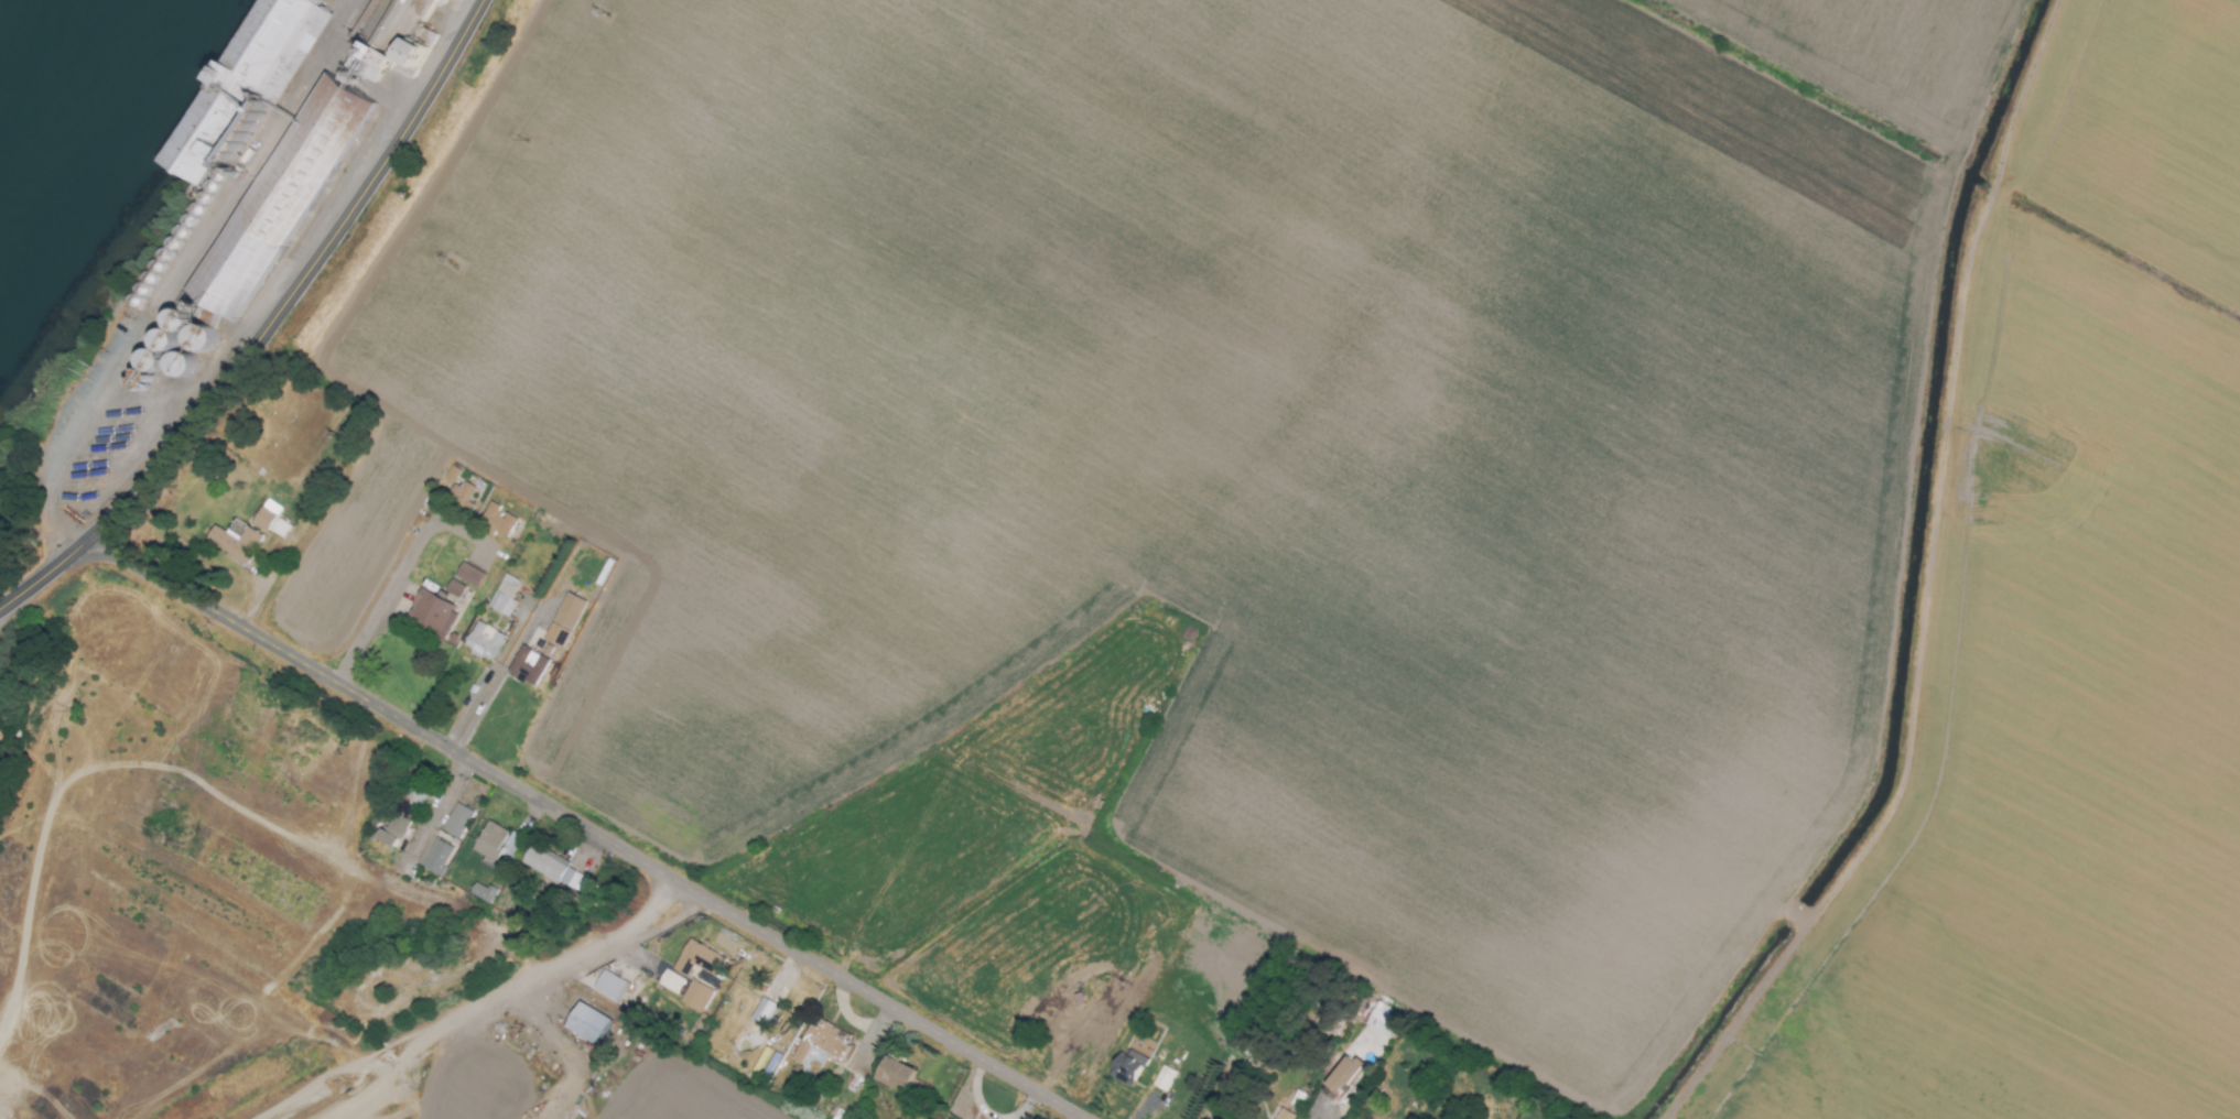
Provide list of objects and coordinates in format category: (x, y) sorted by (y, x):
river: (31, 40)
building: (244, 85)
road: (303, 282)
building: (450, 474)
crop: (1363, 492)
building: (461, 493)
building: (270, 519)
building: (496, 520)
building: (232, 543)
building: (468, 574)
road: (46, 576)
road: (398, 576)
building: (453, 588)
building: (502, 595)
building: (430, 613)
building: (563, 620)
building: (483, 641)
building: (526, 666)
road: (481, 681)
road: (490, 687)
road: (61, 792)
building: (421, 796)
road: (436, 805)
building: (464, 823)
road: (585, 828)
building: (399, 834)
building: (497, 845)
building: (442, 859)
building: (558, 872)
building: (486, 894)
building: (695, 959)
road: (548, 964)
building: (669, 981)
building: (608, 986)
building: (694, 997)
building: (762, 1012)
building: (1378, 1022)
building: (585, 1023)
building: (822, 1041)
crop: (505, 1061)
road: (360, 1067)
building: (1125, 1067)
road: (434, 1073)
building: (894, 1074)
building: (1162, 1078)
building: (1340, 1078)
road: (629, 1093)
road: (289, 1107)
building: (1284, 1115)
building: (1367, 1118)

